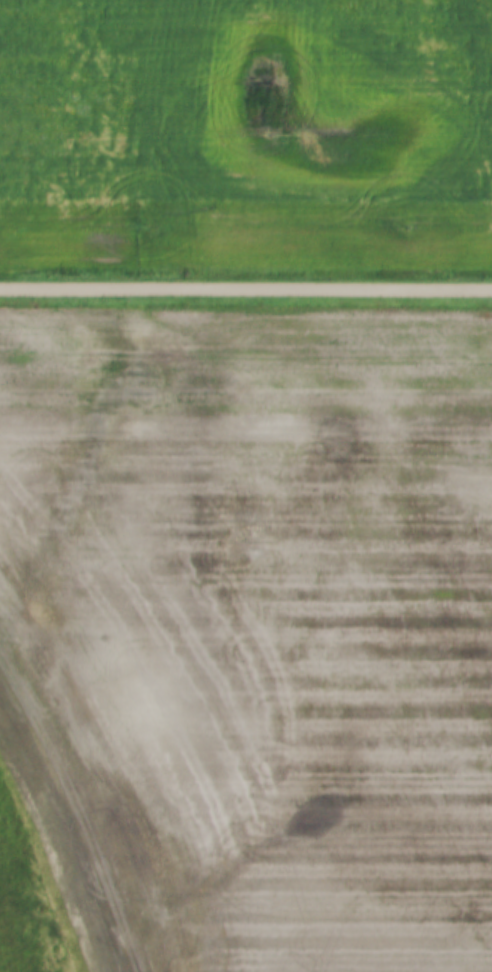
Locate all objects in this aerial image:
road: (246, 288)

